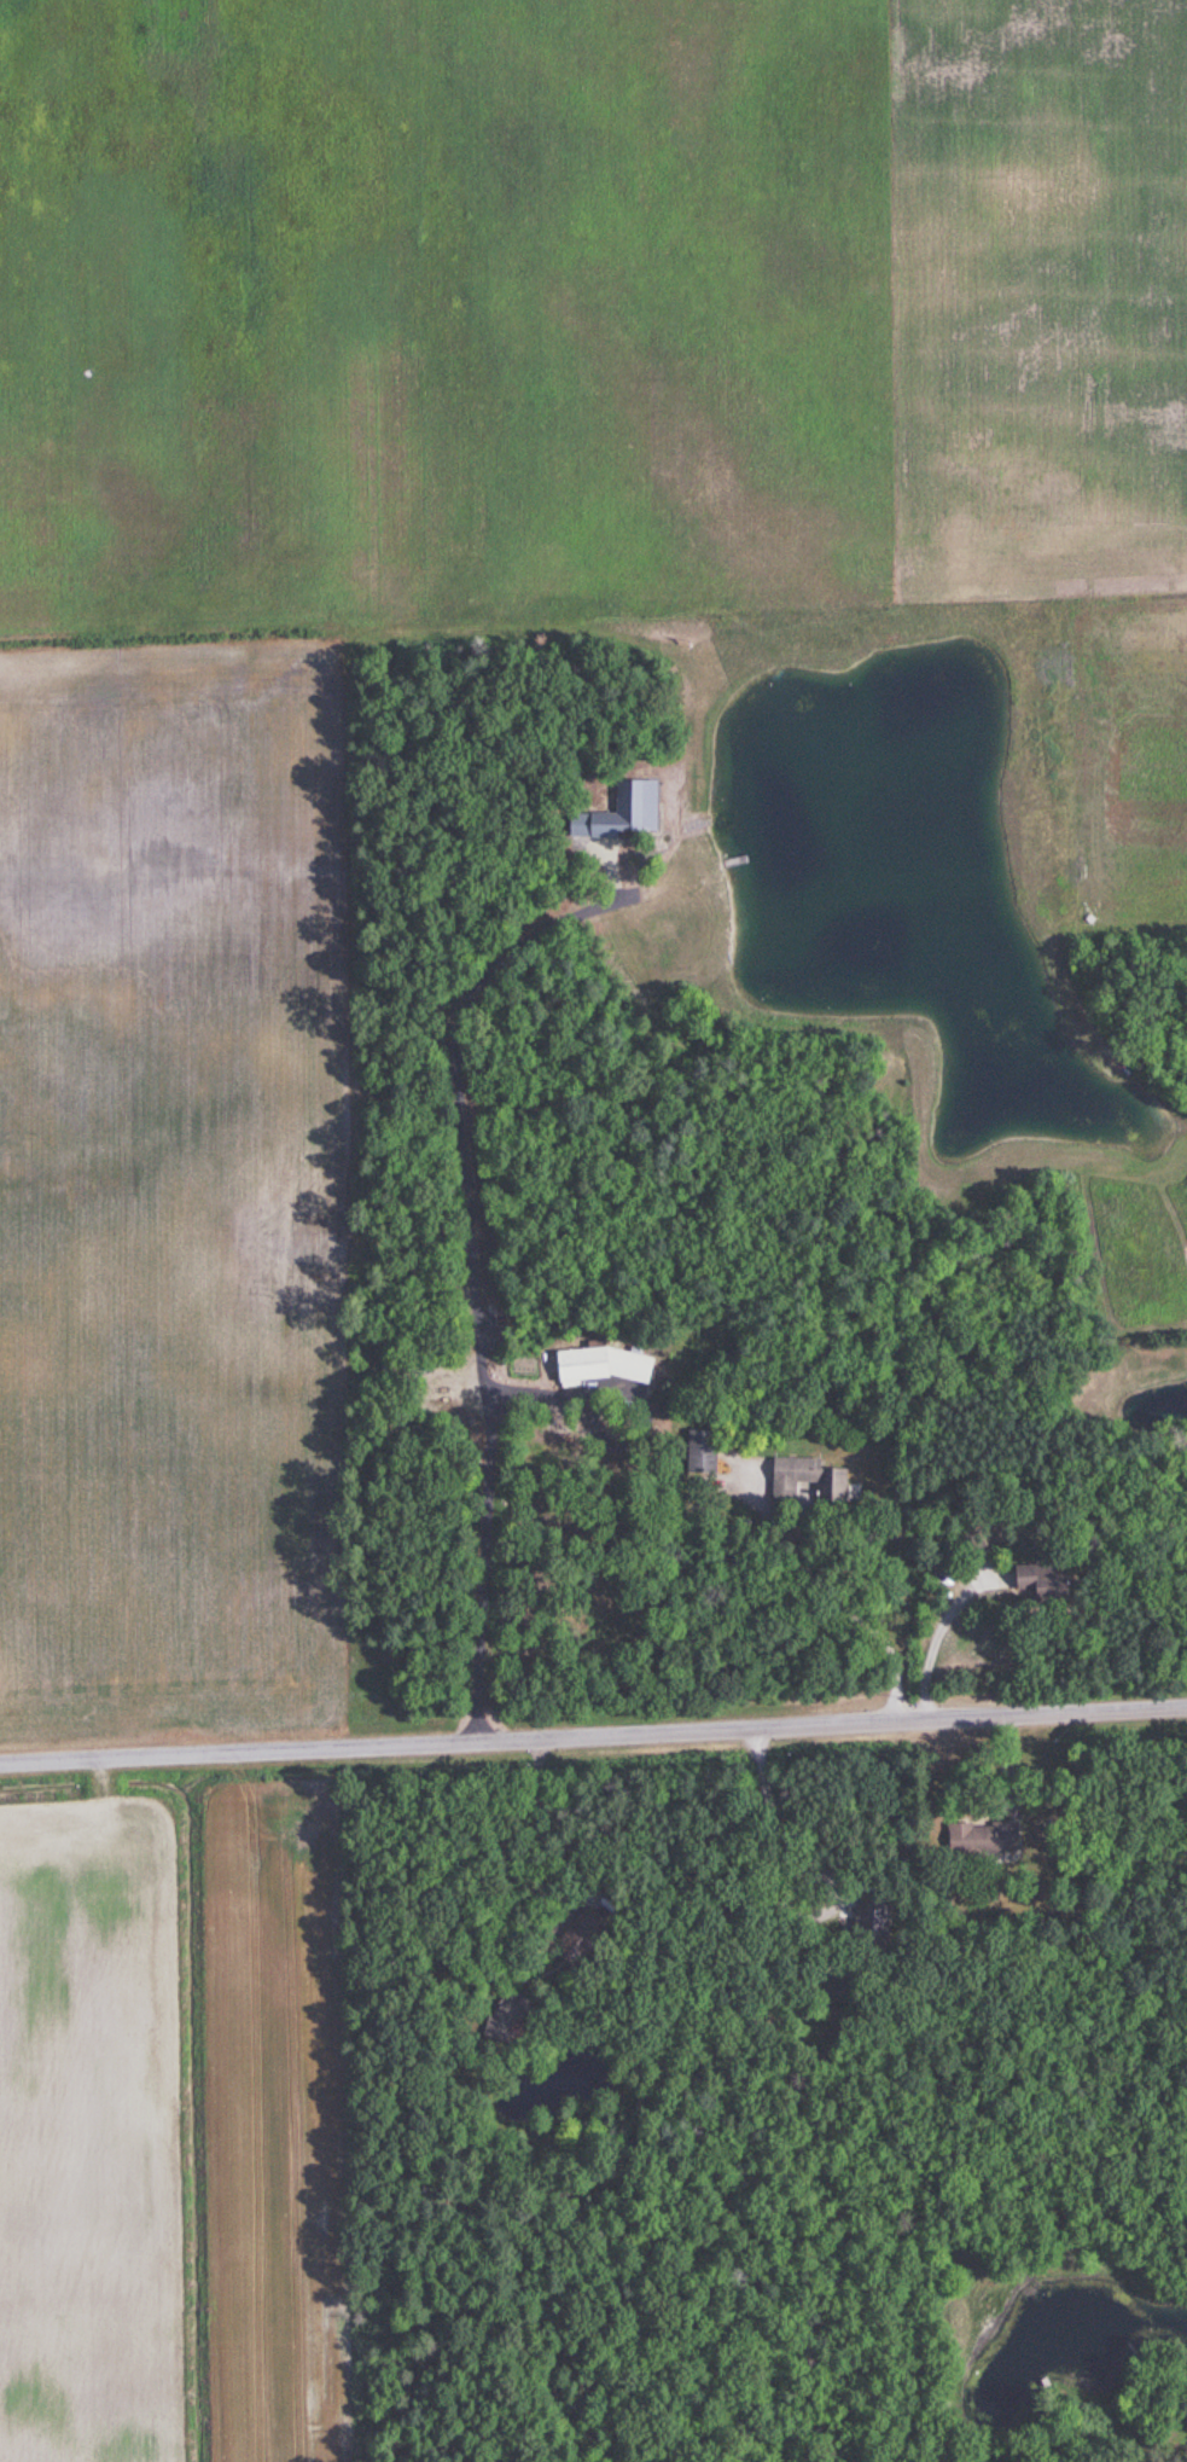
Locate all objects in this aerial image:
building: (617, 814)
road: (475, 1266)
building: (600, 1365)
building: (698, 1451)
building: (792, 1477)
building: (833, 1486)
building: (1026, 1580)
road: (846, 1605)
road: (933, 1639)
road: (593, 1737)
road: (774, 1811)
building: (979, 1837)
building: (571, 1936)

